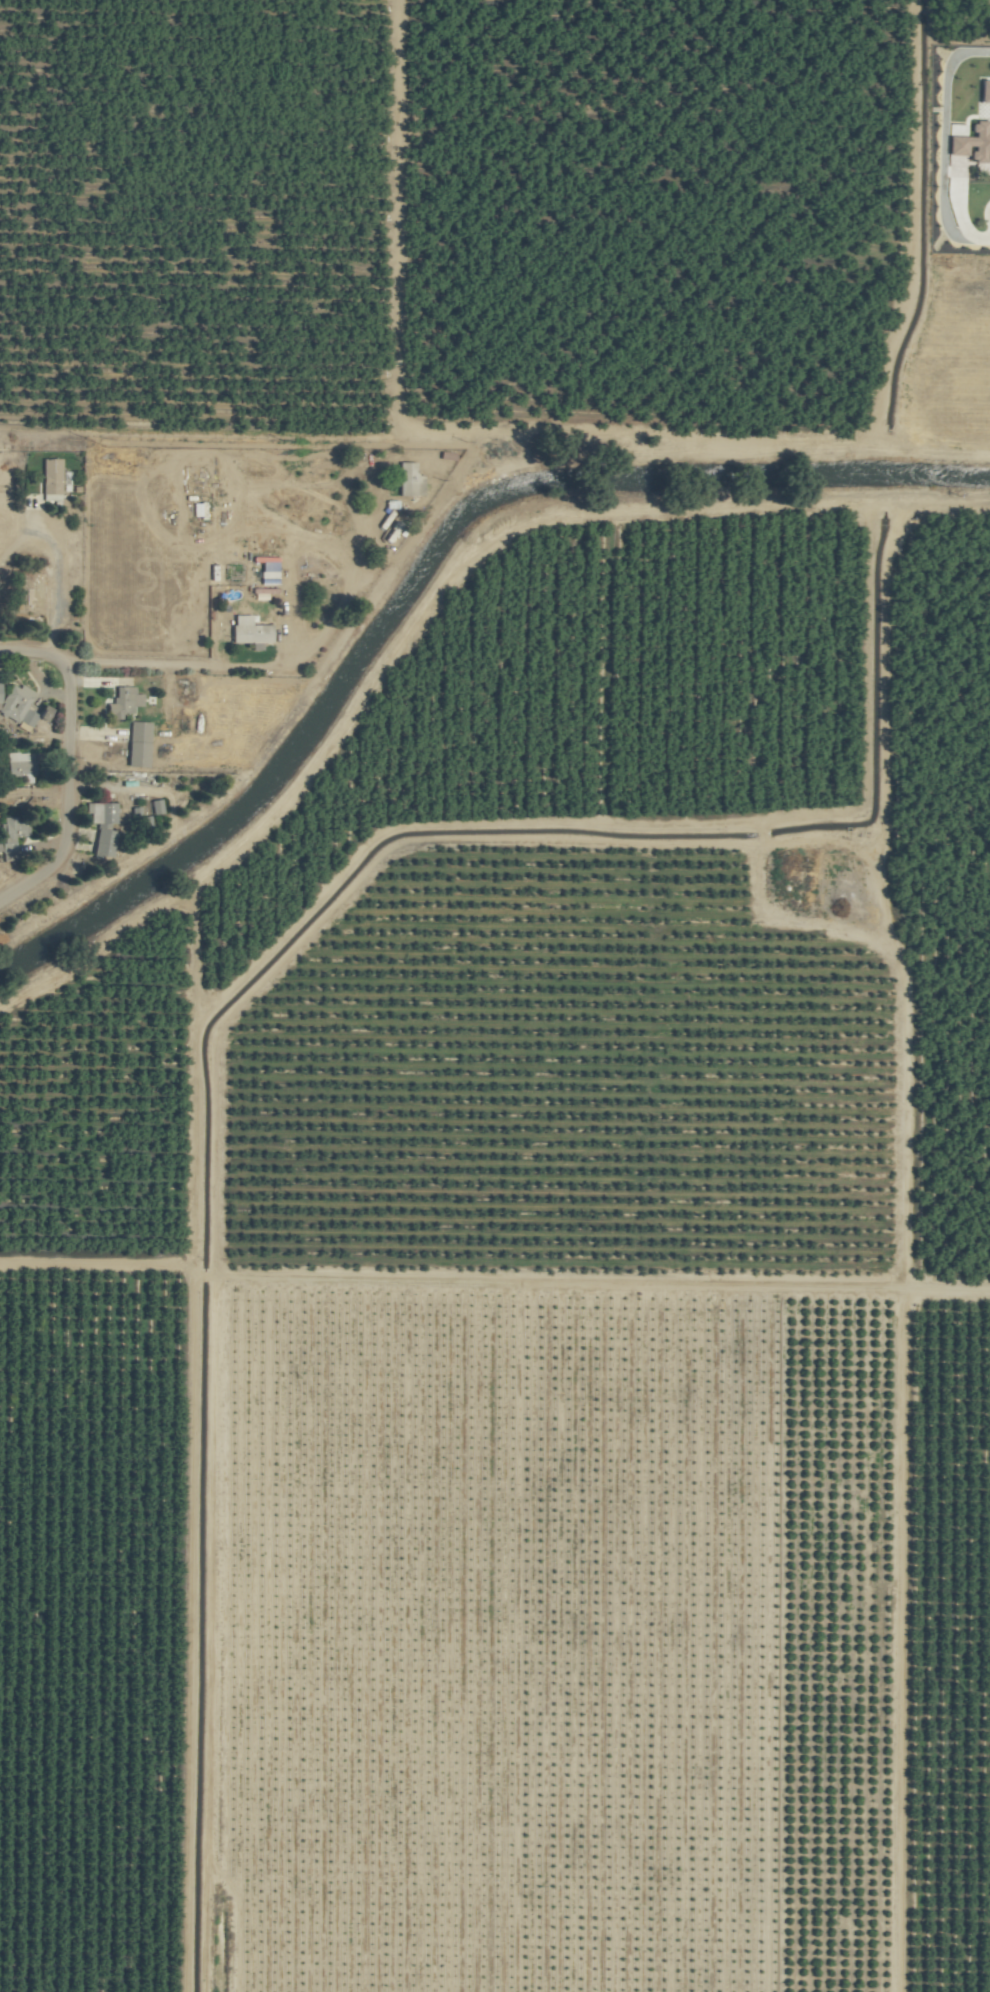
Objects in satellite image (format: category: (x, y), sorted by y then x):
building: (970, 143)
building: (50, 477)
building: (408, 480)
road: (60, 582)
building: (34, 593)
building: (247, 631)
road: (29, 652)
road: (267, 666)
building: (122, 701)
building: (15, 703)
building: (138, 730)
building: (16, 763)
road: (71, 791)
building: (99, 813)
building: (9, 829)
building: (101, 843)
crop: (495, 996)

